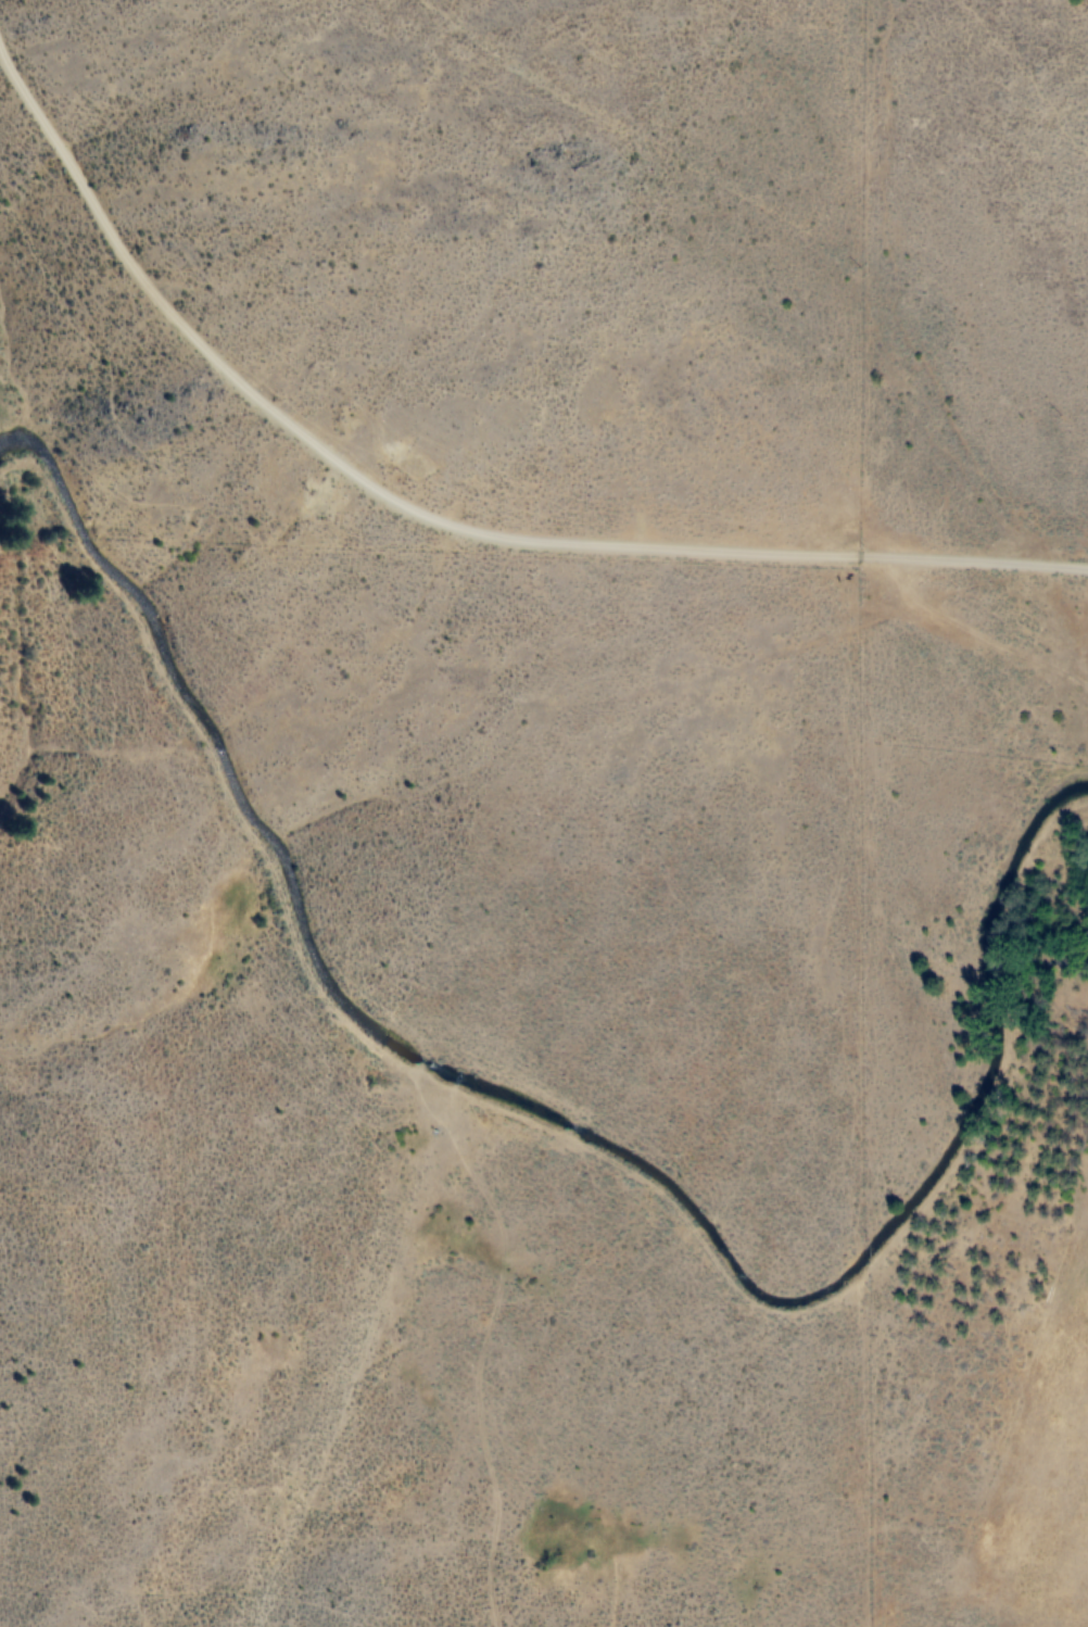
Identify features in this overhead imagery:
road: (444, 541)
road: (846, 1567)

